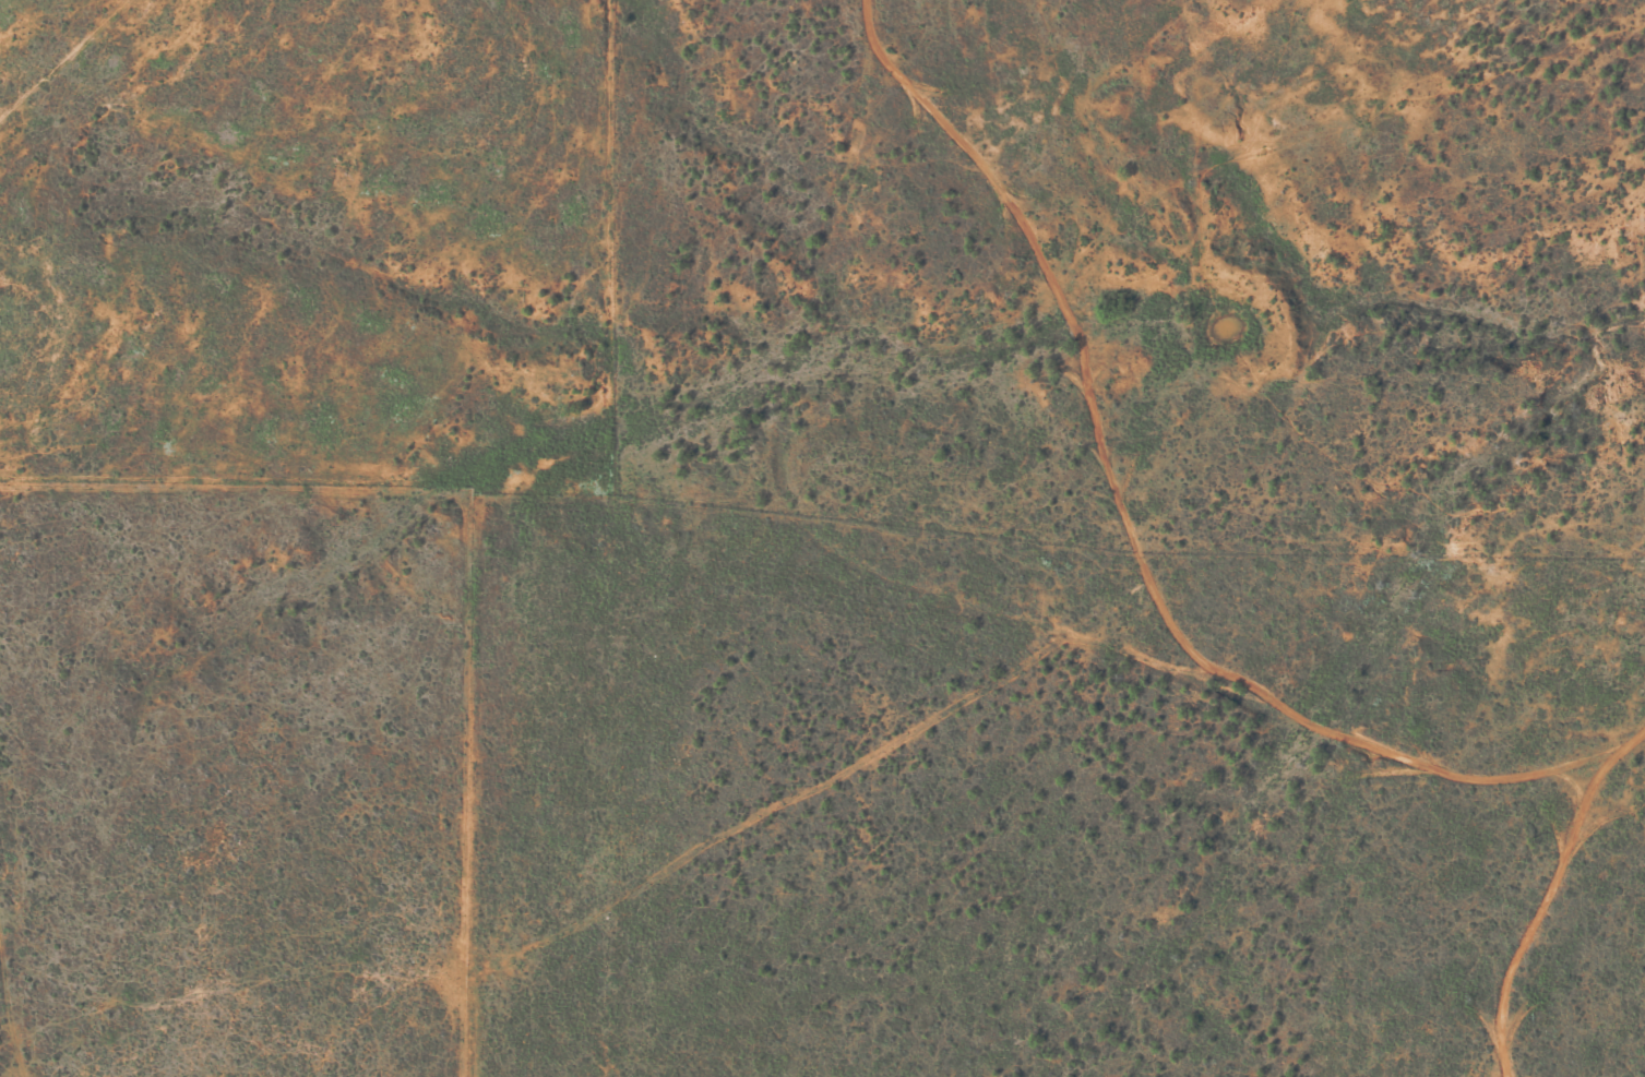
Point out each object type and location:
road: (1596, 925)
road: (23, 990)

